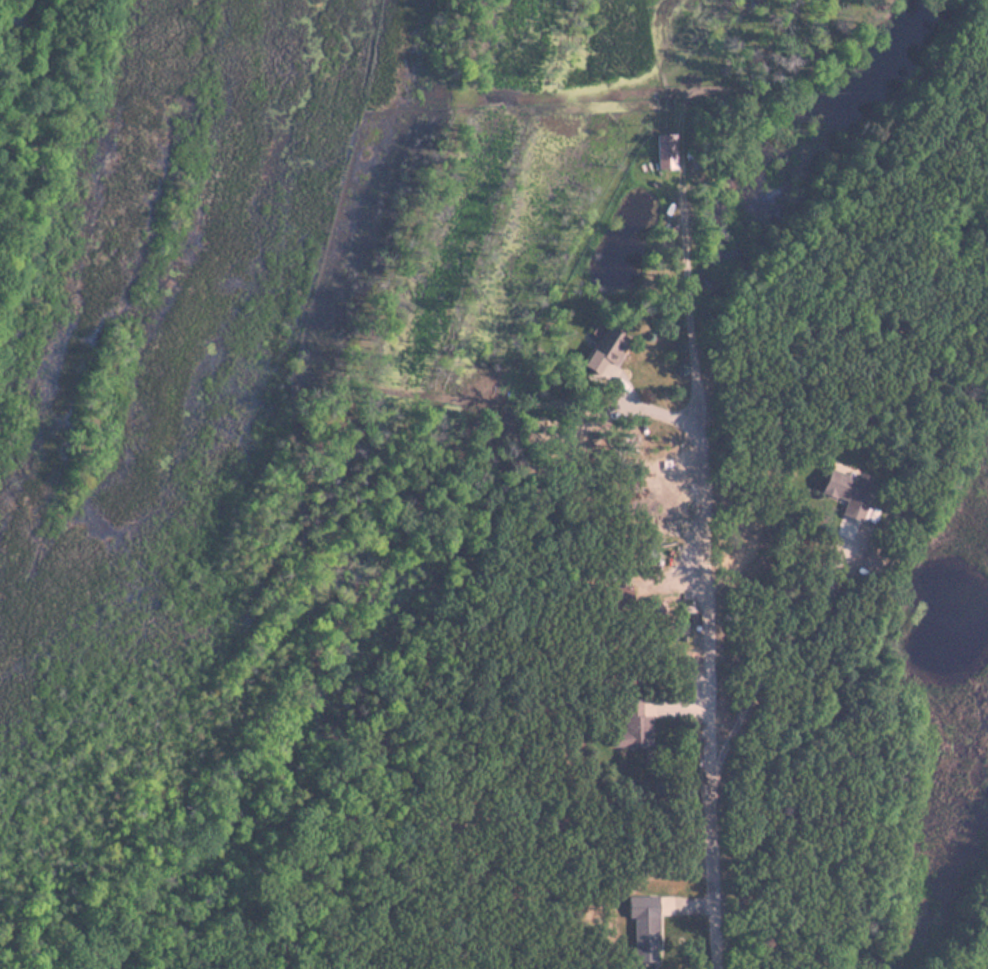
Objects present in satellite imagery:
road: (94, 46)
road: (118, 89)
building: (667, 151)
building: (605, 351)
building: (850, 491)
road: (706, 621)
building: (633, 727)
building: (645, 927)

